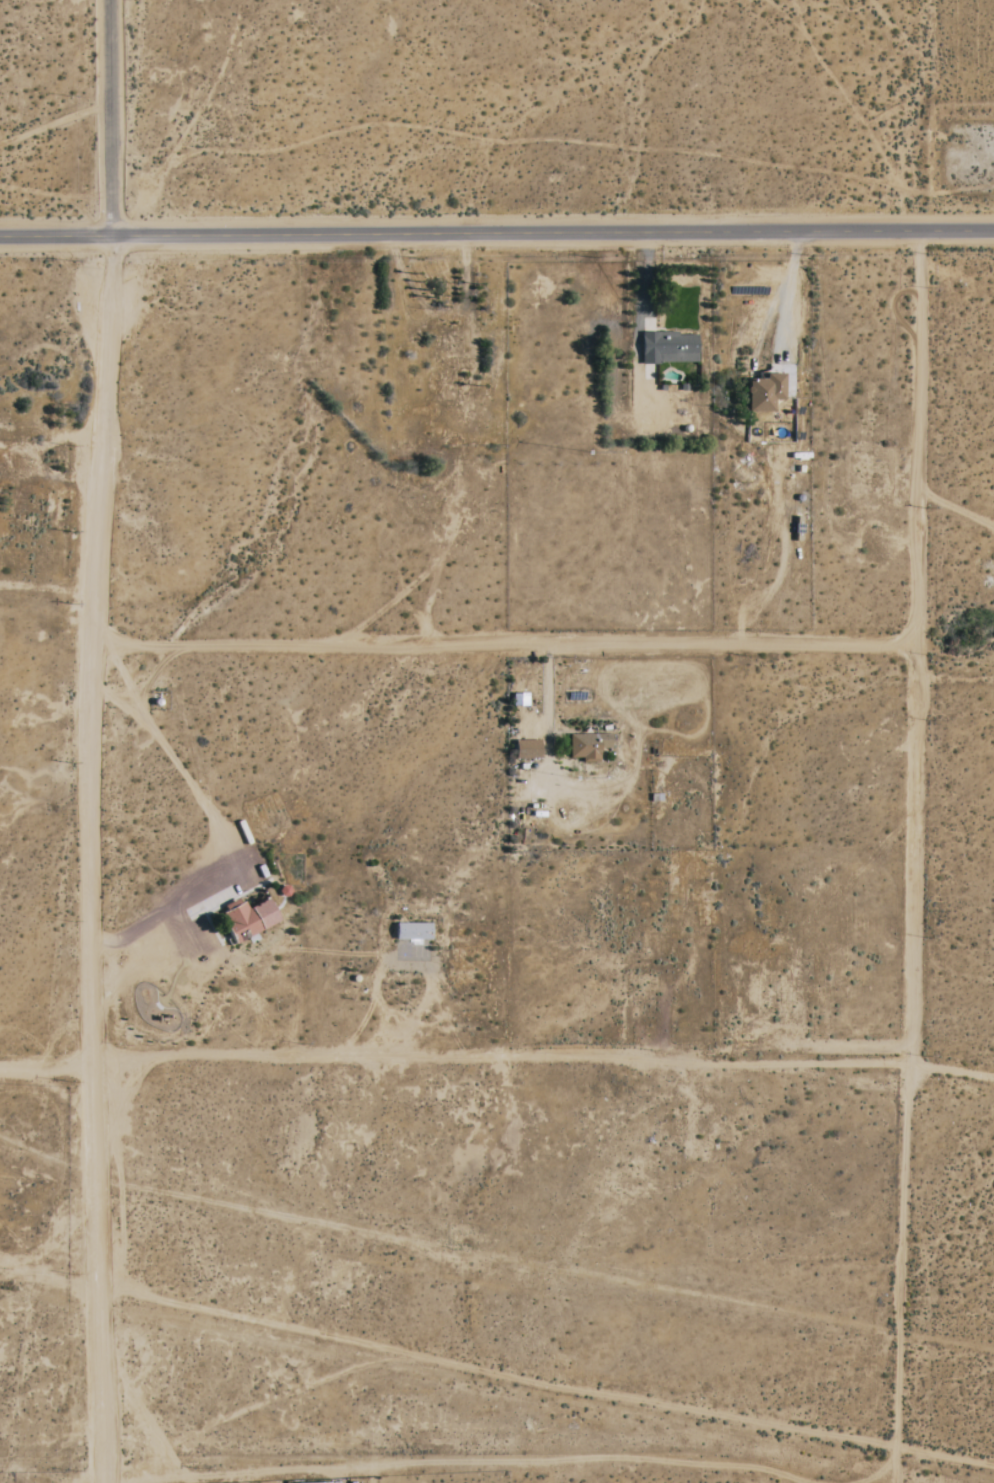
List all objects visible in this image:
road: (109, 119)
road: (497, 234)
road: (789, 295)
road: (639, 321)
building: (670, 348)
building: (766, 392)
road: (953, 506)
road: (505, 644)
road: (546, 696)
building: (589, 746)
building: (528, 749)
road: (223, 829)
road: (914, 856)
road: (95, 860)
building: (413, 931)
road: (405, 964)
road: (501, 1054)
road: (953, 1059)
road: (45, 1065)

